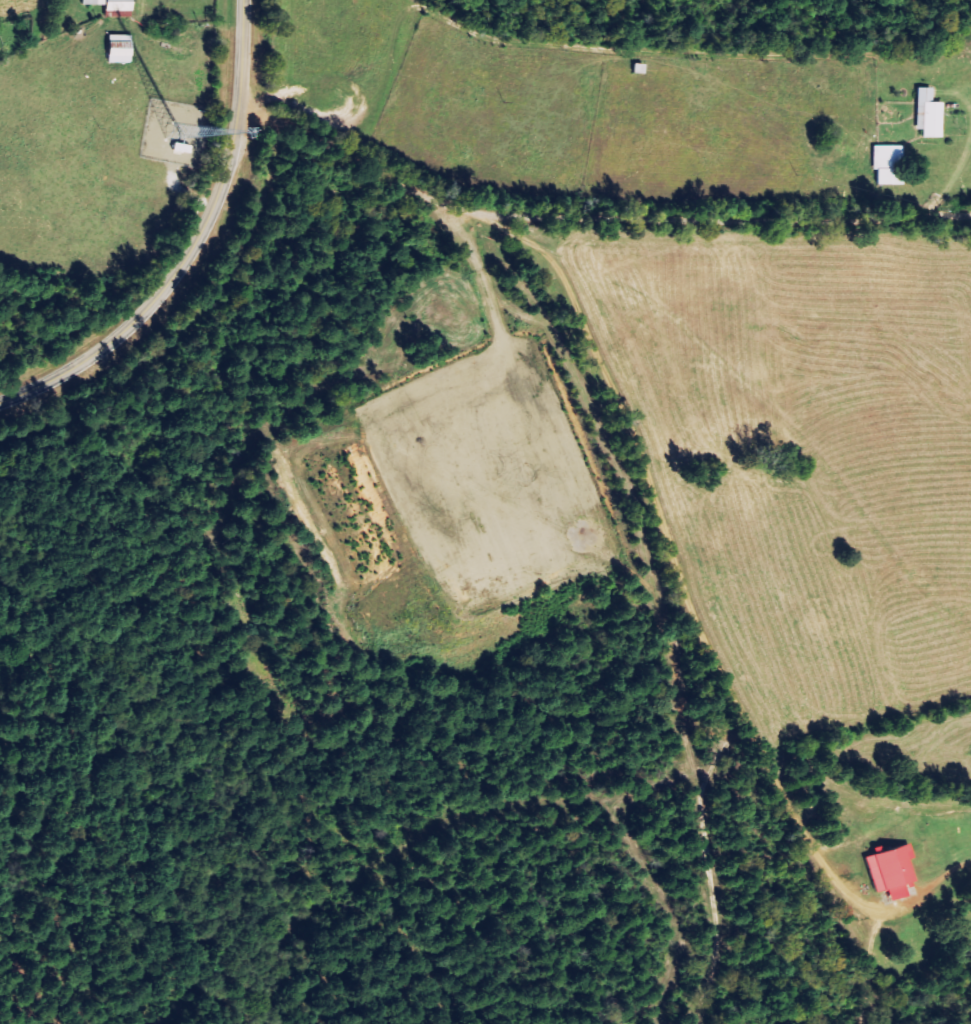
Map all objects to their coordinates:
building: (105, 4)
building: (112, 48)
building: (925, 114)
building: (884, 165)
road: (600, 177)
road: (196, 248)
building: (886, 871)

